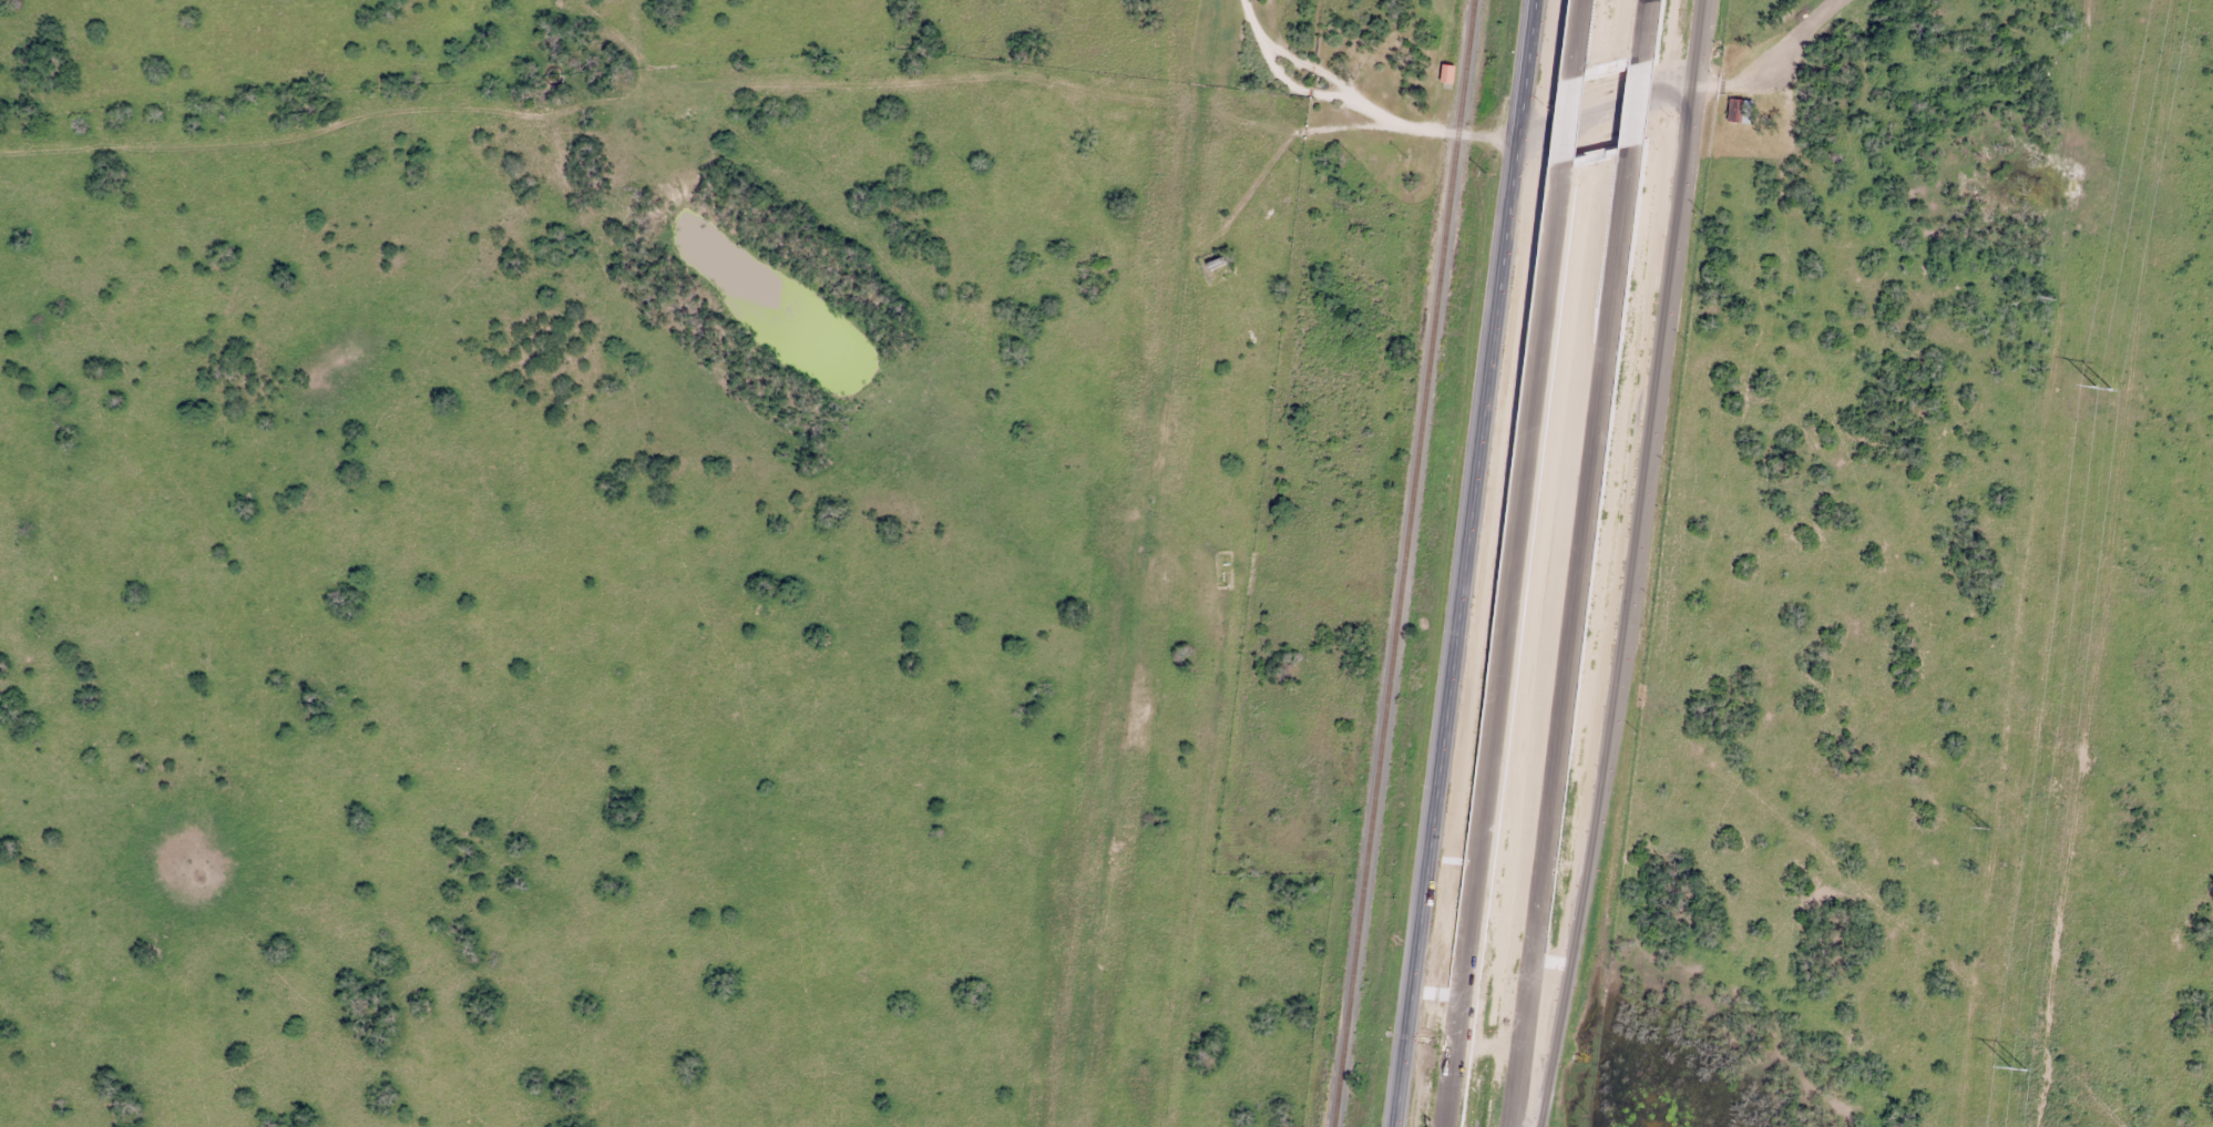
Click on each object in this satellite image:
road: (1645, 30)
road: (1577, 38)
road: (1260, 48)
road: (1692, 51)
road: (1768, 62)
building: (1448, 72)
road: (844, 95)
road: (1636, 102)
building: (1740, 109)
road: (1567, 119)
power tower: (2100, 393)
railway: (1410, 563)
road: (1469, 563)
road: (1619, 616)
road: (1568, 636)
road: (1499, 644)
power tower: (1995, 749)
power tower: (1986, 828)
power tower: (2017, 1073)

